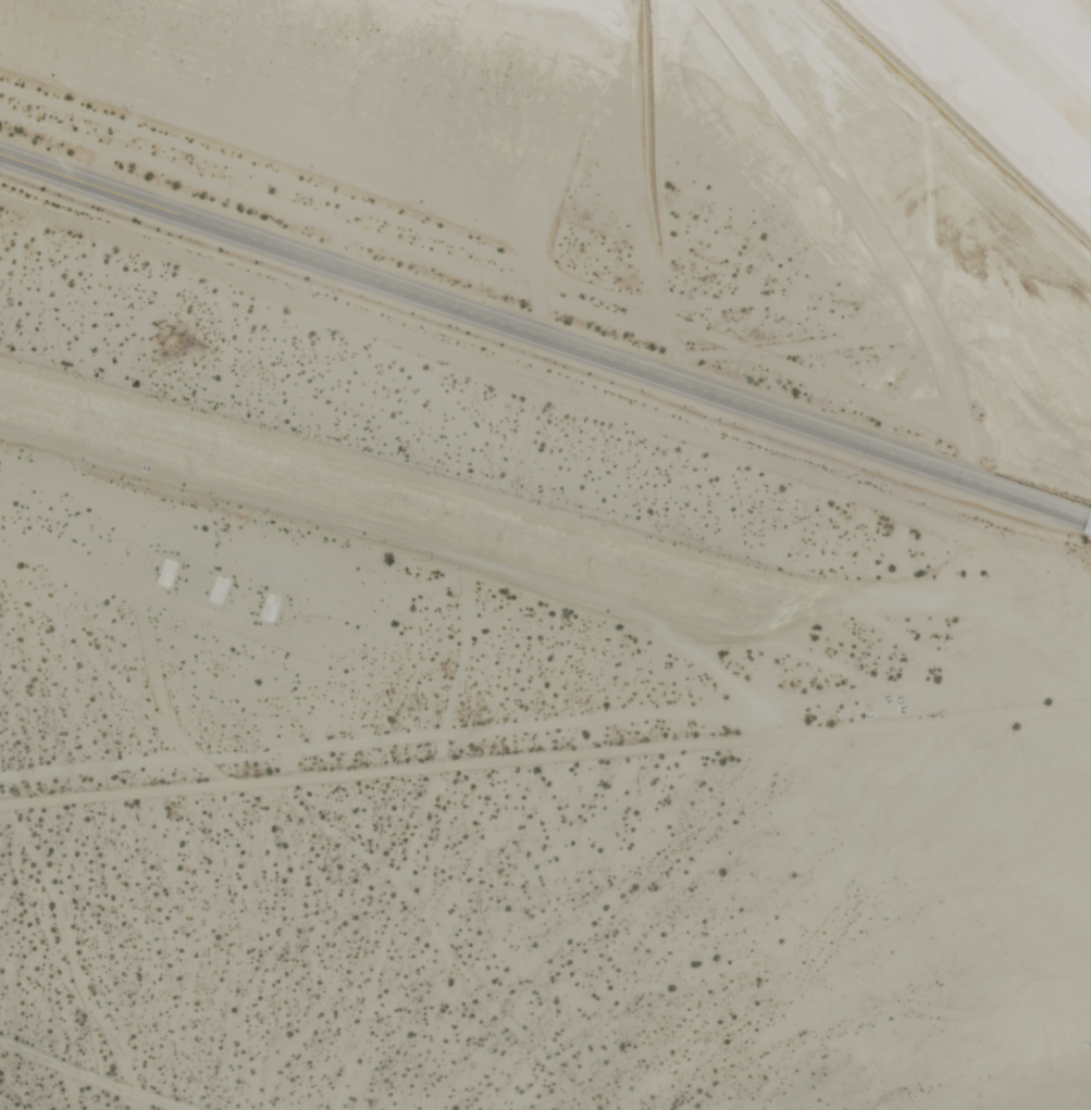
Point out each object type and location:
airport taxiway: (1024, 62)
road: (545, 338)
road: (567, 398)
airport apron: (270, 532)
airport: (551, 546)
road: (894, 610)
building: (917, 673)
building: (1080, 679)
building: (1050, 682)
building: (1015, 684)
building: (982, 687)
building: (1046, 729)
road: (545, 758)

